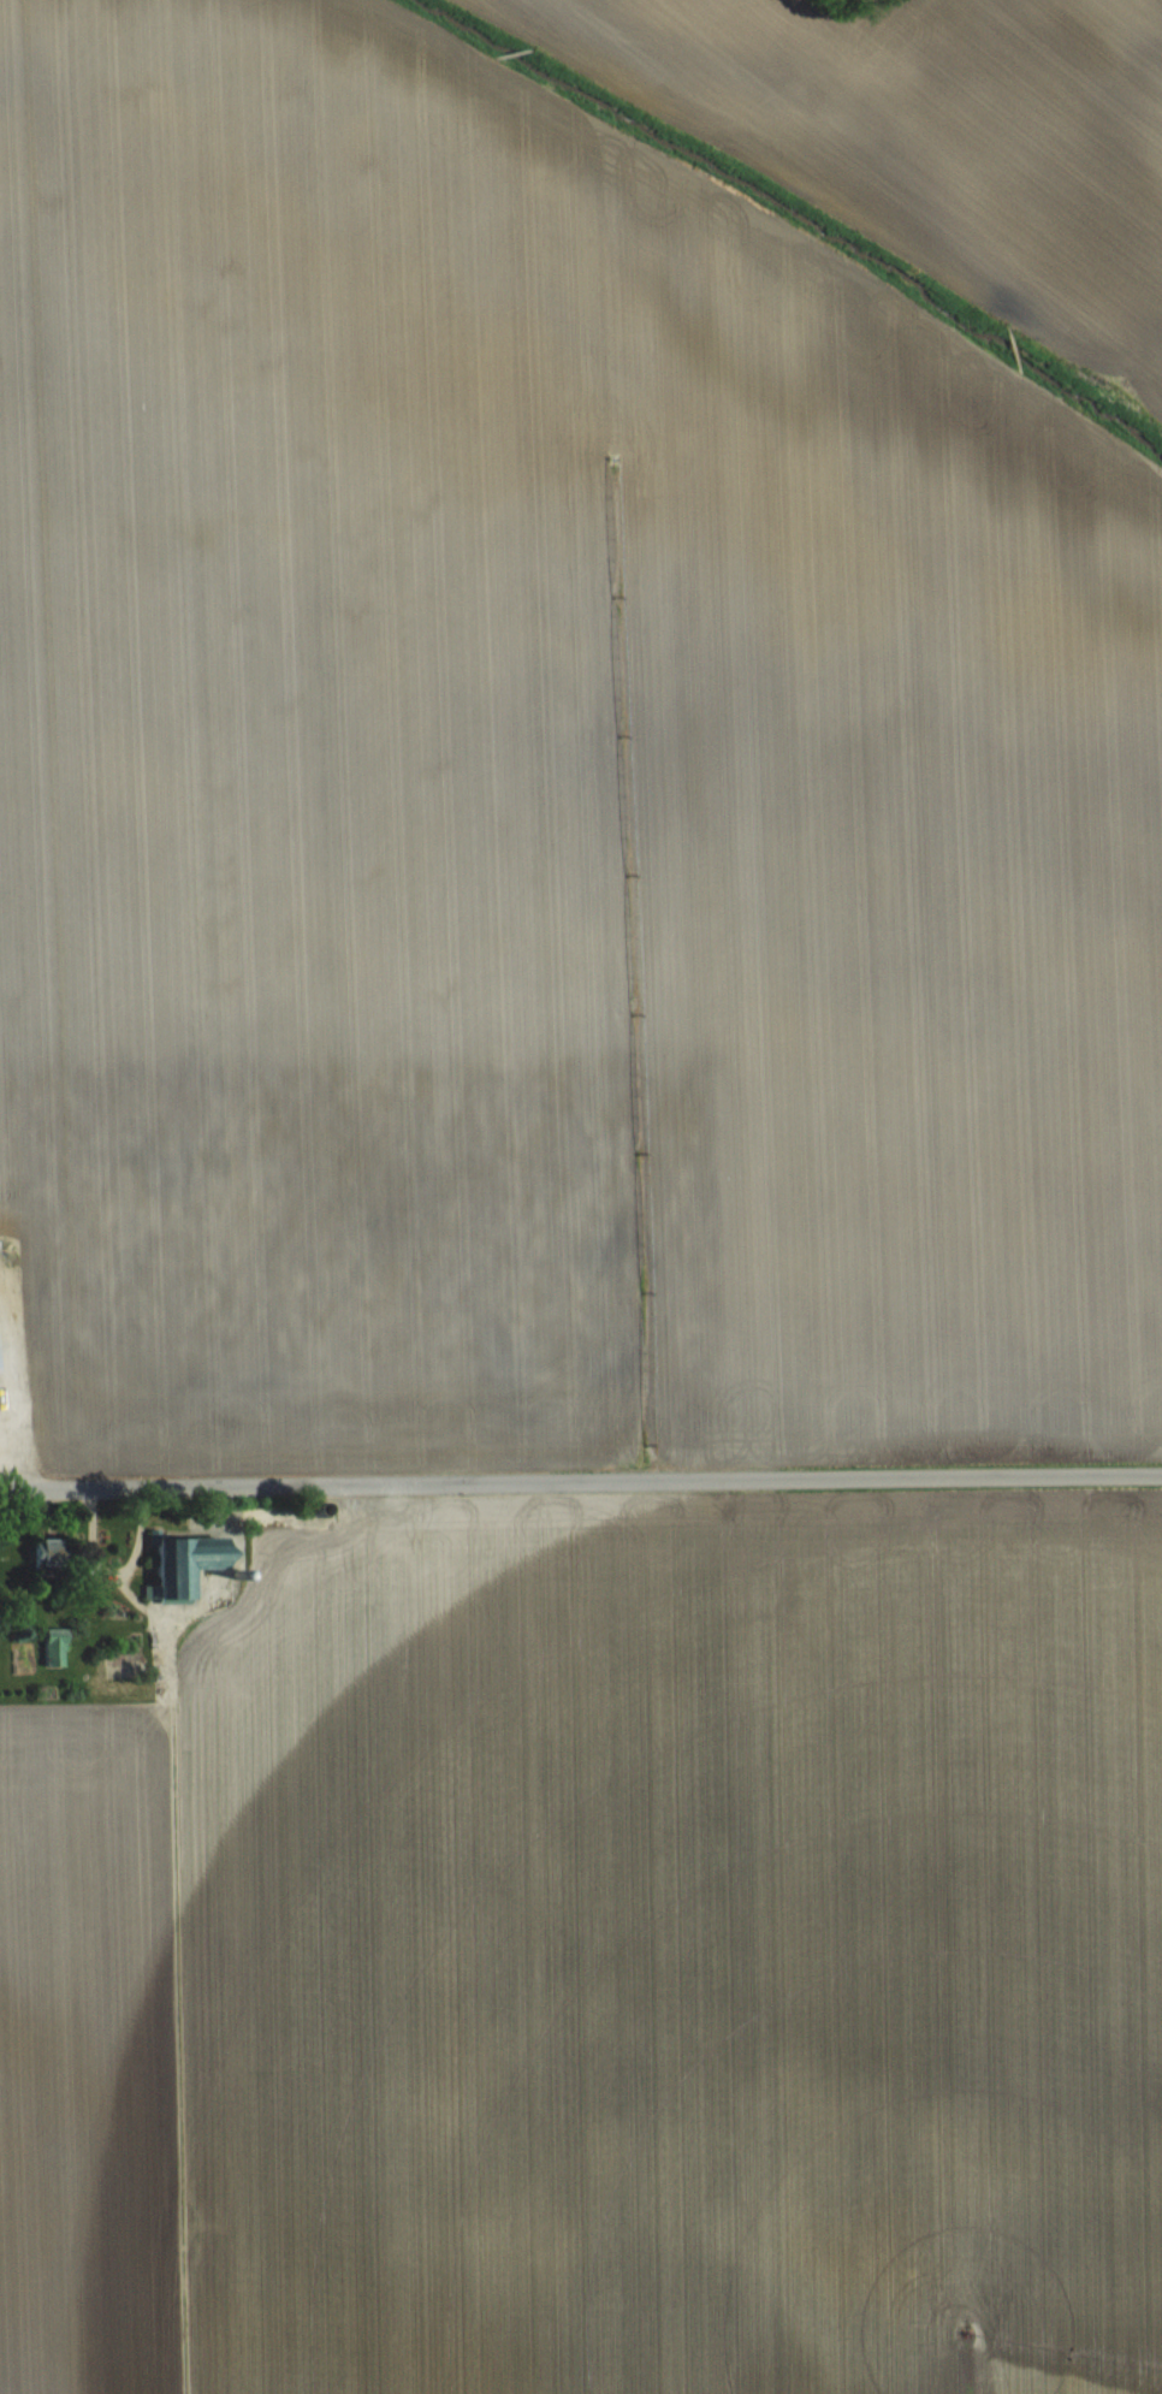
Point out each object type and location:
road: (581, 1492)
building: (40, 1555)
building: (177, 1564)
building: (51, 1647)

